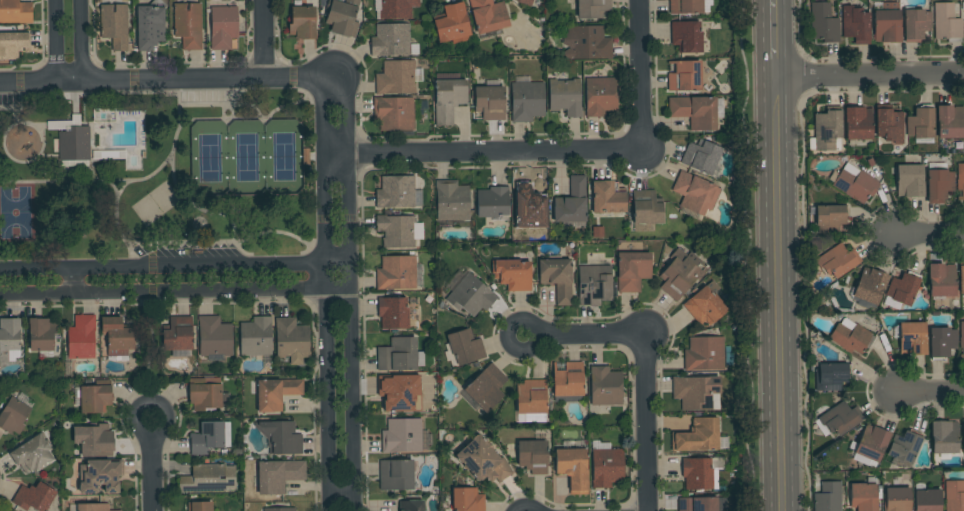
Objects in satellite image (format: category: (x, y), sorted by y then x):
building: (525, 2)
building: (689, 6)
building: (592, 8)
building: (394, 9)
building: (15, 12)
building: (489, 15)
building: (343, 17)
building: (947, 22)
building: (303, 23)
building: (824, 23)
building: (452, 24)
building: (916, 24)
building: (188, 25)
building: (856, 25)
building: (115, 26)
building: (149, 26)
building: (887, 26)
building: (223, 27)
building: (687, 36)
building: (391, 39)
road: (779, 39)
road: (262, 40)
road: (53, 41)
road: (84, 41)
building: (586, 43)
building: (13, 44)
road: (637, 76)
building: (685, 76)
road: (872, 76)
building: (396, 77)
road: (168, 81)
building: (600, 93)
building: (565, 96)
building: (448, 99)
building: (527, 99)
building: (490, 103)
building: (694, 111)
building: (394, 113)
building: (950, 121)
building: (858, 123)
building: (921, 125)
building: (889, 126)
building: (827, 128)
building: (73, 142)
road: (479, 154)
building: (702, 156)
park: (158, 177)
building: (910, 180)
building: (960, 180)
building: (855, 183)
building: (939, 185)
building: (396, 192)
building: (695, 193)
building: (608, 197)
building: (530, 199)
building: (452, 201)
building: (493, 202)
building: (572, 202)
building: (647, 207)
building: (830, 218)
building: (396, 230)
road: (928, 234)
building: (834, 262)
road: (175, 267)
building: (632, 271)
building: (396, 272)
building: (681, 273)
building: (513, 274)
building: (962, 277)
building: (557, 278)
building: (942, 280)
road: (70, 283)
building: (594, 284)
building: (870, 285)
building: (903, 288)
road: (175, 293)
road: (351, 293)
road: (325, 294)
building: (469, 294)
road: (781, 294)
building: (957, 303)
building: (704, 306)
building: (393, 313)
building: (41, 334)
building: (178, 334)
building: (962, 334)
building: (851, 336)
building: (8, 337)
building: (117, 337)
building: (256, 337)
road: (589, 337)
building: (81, 338)
building: (215, 338)
building: (291, 338)
road: (506, 338)
building: (913, 338)
building: (942, 342)
building: (465, 346)
building: (704, 354)
building: (398, 355)
building: (962, 356)
building: (830, 376)
building: (568, 380)
building: (606, 386)
building: (486, 387)
building: (696, 392)
road: (929, 392)
building: (276, 393)
building: (398, 393)
building: (96, 397)
building: (207, 397)
building: (533, 401)
road: (150, 406)
building: (13, 416)
building: (840, 419)
road: (644, 423)
building: (962, 431)
building: (402, 435)
building: (698, 436)
building: (207, 437)
building: (281, 437)
building: (944, 437)
building: (98, 440)
building: (872, 443)
building: (904, 446)
building: (33, 454)
building: (533, 456)
building: (483, 460)
building: (607, 467)
building: (573, 469)
building: (701, 472)
road: (151, 474)
building: (277, 475)
building: (396, 475)
building: (101, 478)
building: (207, 478)
building: (954, 495)
building: (863, 496)
building: (34, 497)
building: (828, 497)
building: (467, 499)
building: (897, 499)
building: (928, 499)
building: (702, 504)
building: (411, 505)
building: (199, 506)
building: (92, 507)
building: (279, 509)
road: (525, 509)
building: (117, 510)

